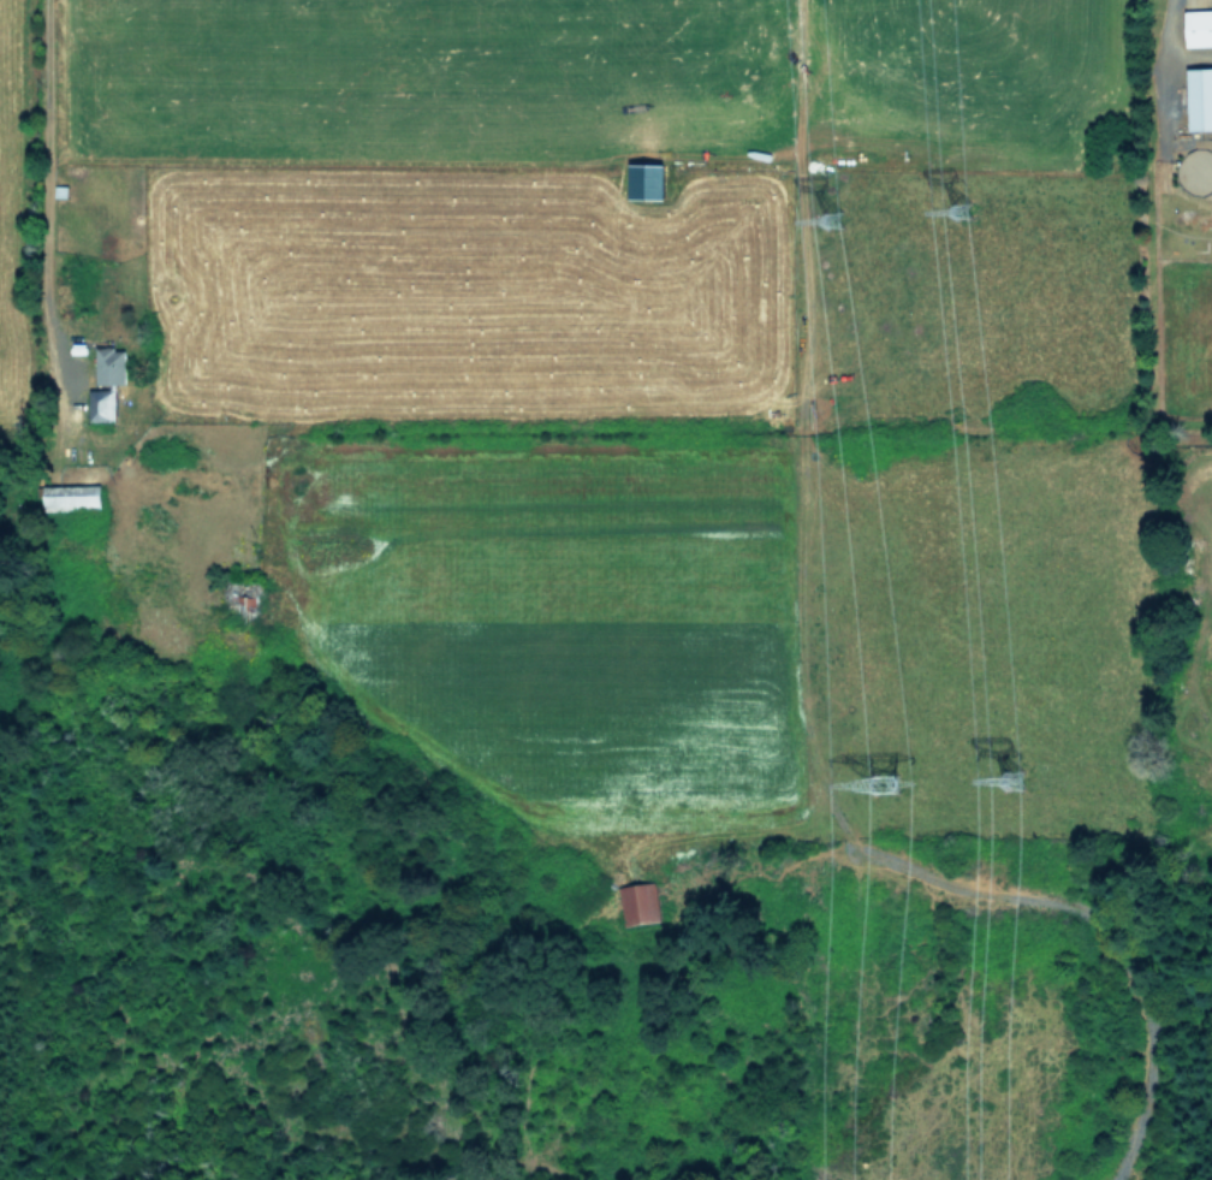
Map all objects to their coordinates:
building: (1199, 26)
building: (1200, 97)
building: (647, 179)
power tower: (970, 217)
power tower: (845, 225)
road: (46, 291)
building: (106, 383)
building: (72, 497)
power tower: (1023, 772)
power tower: (892, 781)
building: (637, 901)

